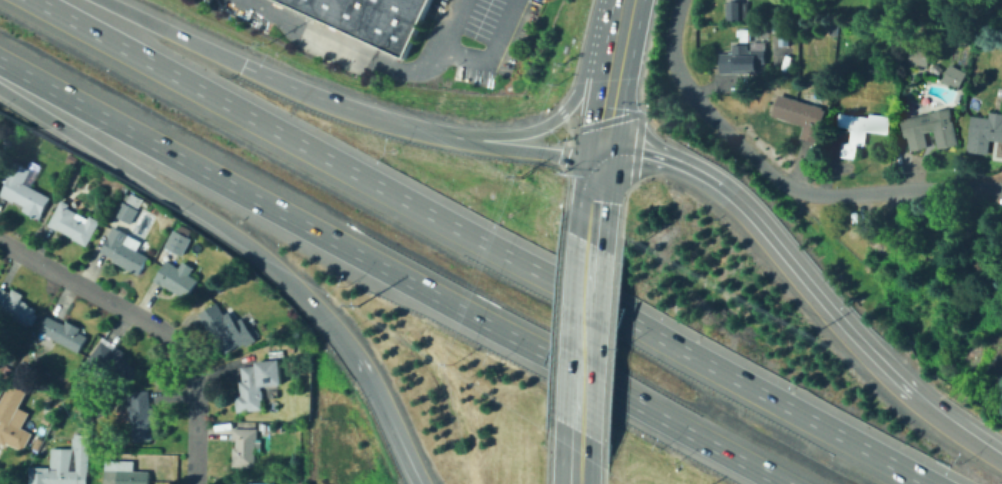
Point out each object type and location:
building: (738, 10)
building: (371, 18)
parking lot: (499, 22)
road: (621, 22)
road: (173, 32)
building: (917, 53)
road: (492, 54)
road: (577, 54)
road: (645, 56)
road: (369, 57)
building: (742, 60)
traffic signals: (246, 67)
building: (934, 67)
building: (952, 74)
building: (736, 88)
road: (607, 97)
building: (892, 98)
road: (343, 105)
road: (561, 111)
road: (639, 114)
building: (801, 115)
road: (550, 121)
building: (928, 127)
building: (859, 129)
road: (573, 132)
building: (984, 132)
building: (10, 141)
road: (524, 149)
traffic signals: (600, 151)
road: (562, 153)
building: (67, 157)
building: (90, 167)
building: (75, 178)
road: (780, 180)
building: (23, 190)
road: (564, 194)
road: (595, 197)
building: (133, 198)
building: (106, 200)
road: (190, 205)
building: (126, 212)
road: (621, 219)
building: (74, 223)
building: (179, 239)
road: (483, 241)
road: (774, 242)
building: (125, 250)
building: (892, 267)
road: (391, 273)
building: (176, 278)
road: (101, 292)
building: (16, 306)
road: (554, 320)
building: (225, 329)
building: (64, 333)
road: (581, 336)
building: (291, 347)
building: (980, 348)
road: (611, 350)
building: (113, 357)
building: (257, 383)
building: (142, 415)
building: (13, 416)
road: (390, 418)
building: (47, 419)
road: (192, 422)
road: (957, 424)
building: (263, 427)
building: (39, 443)
building: (246, 447)
road: (546, 448)
road: (576, 457)
road: (604, 464)
building: (67, 465)
building: (125, 473)
building: (249, 474)
building: (247, 483)

